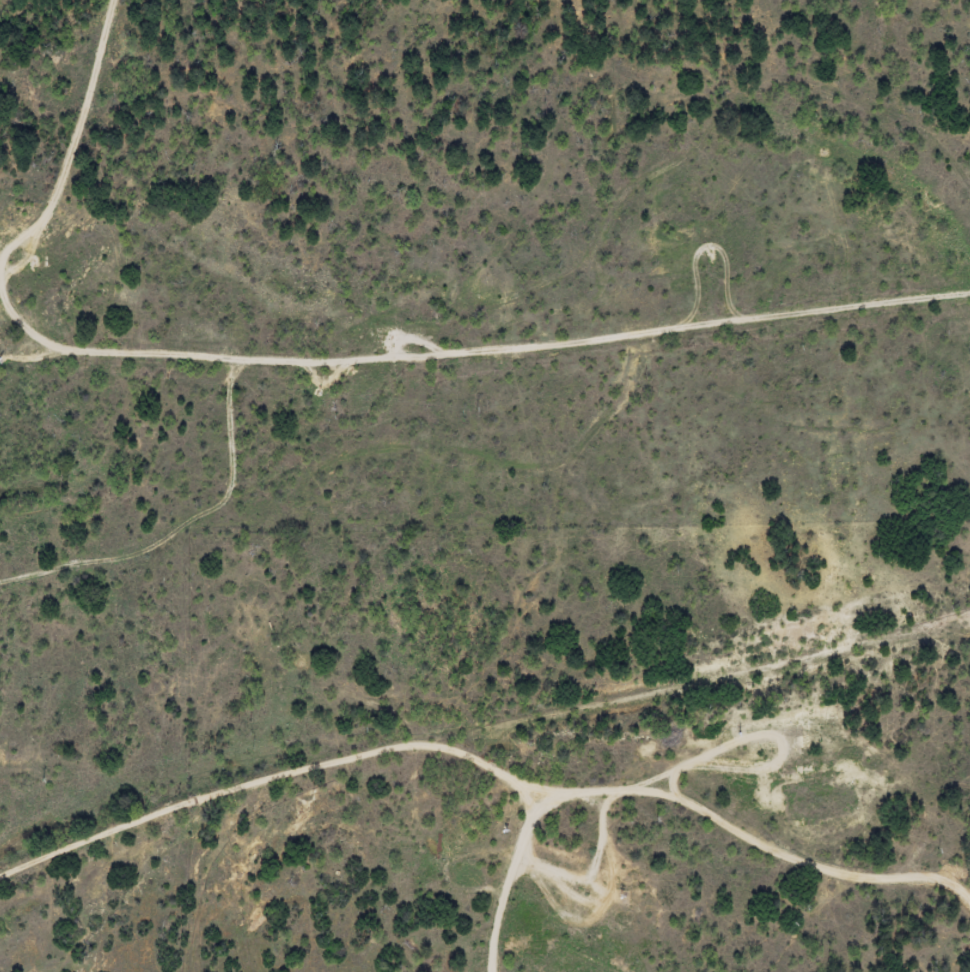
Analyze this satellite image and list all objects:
road: (734, 114)
road: (519, 216)
railway: (474, 736)

